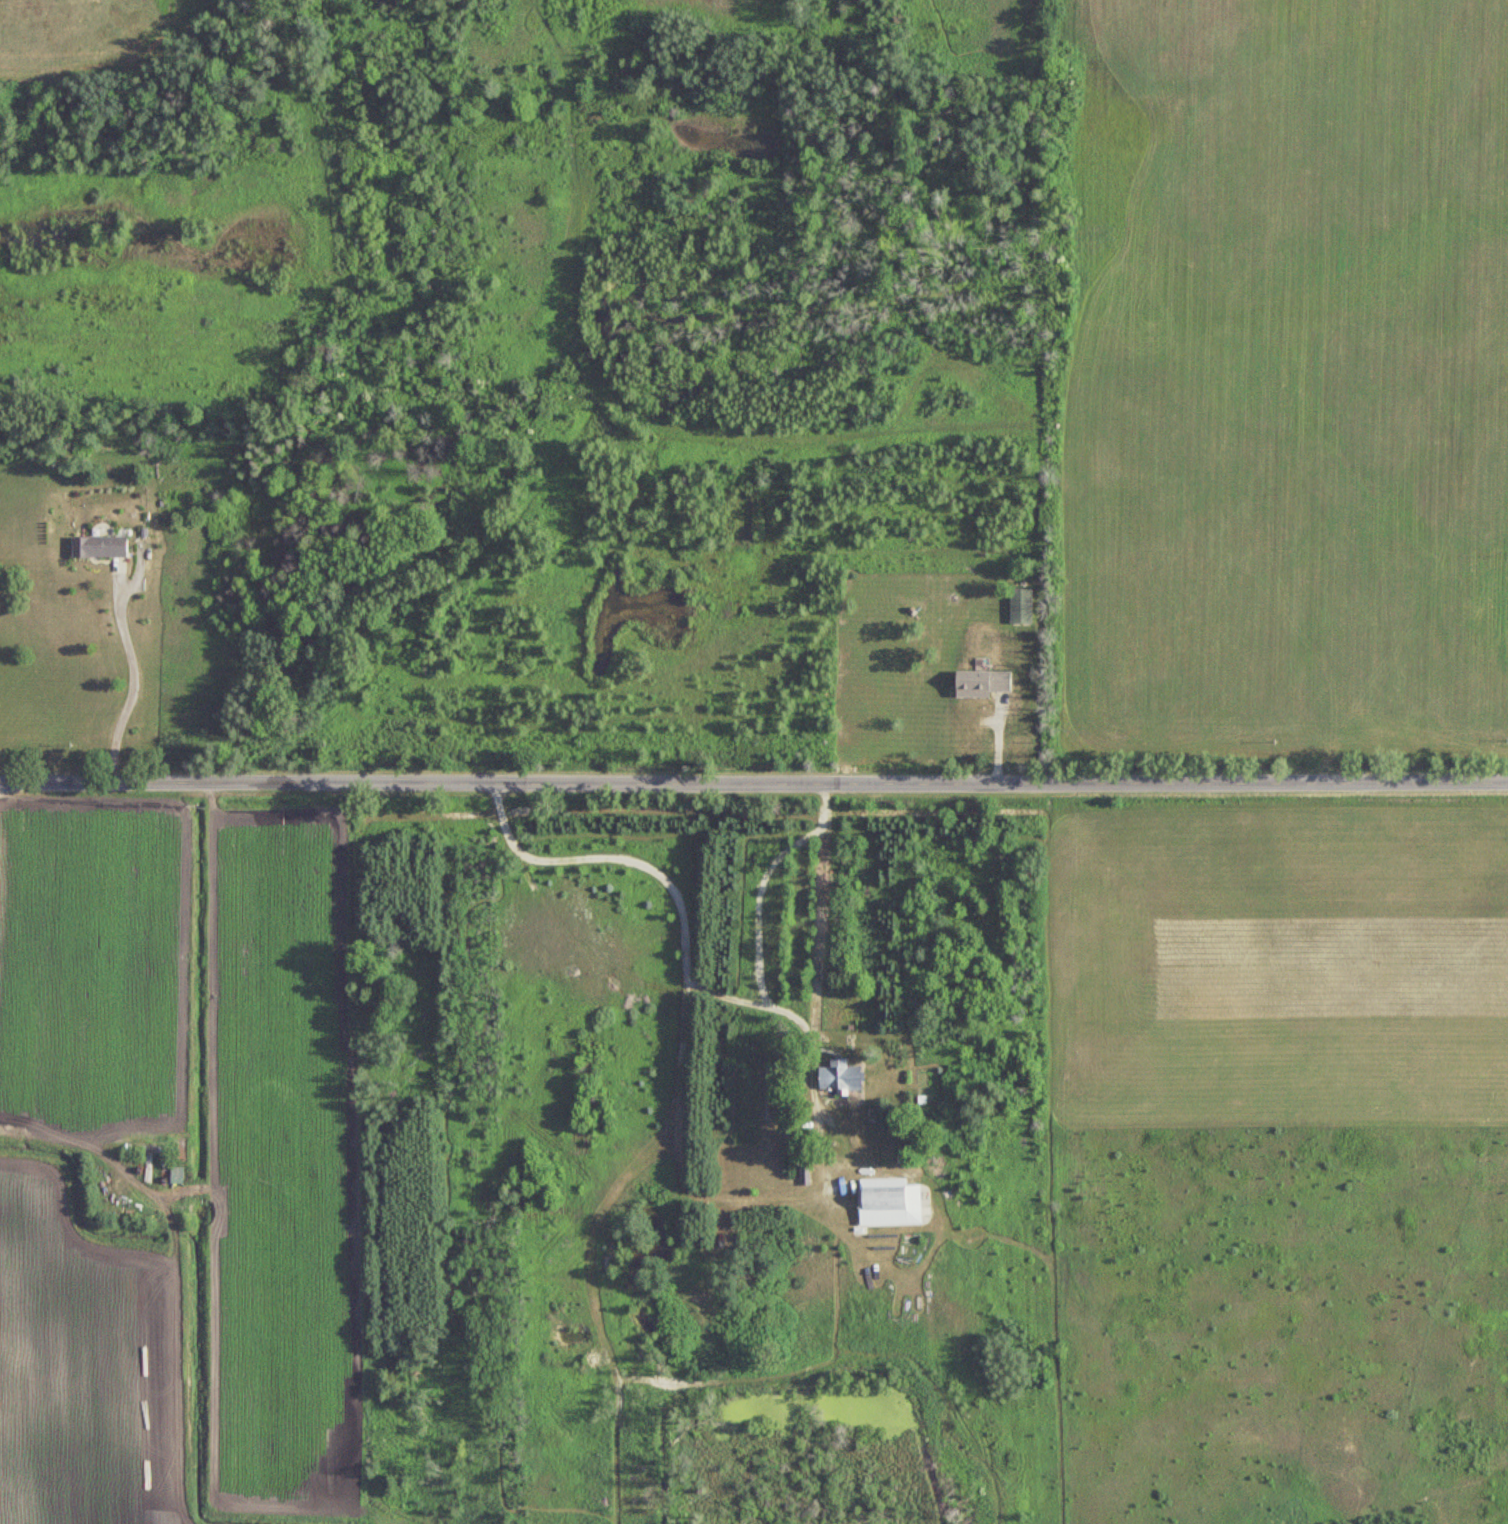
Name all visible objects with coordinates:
building: (100, 546)
building: (1021, 605)
road: (137, 683)
building: (982, 683)
road: (753, 783)
road: (670, 885)
road: (762, 896)
road: (819, 955)
building: (840, 1079)
building: (177, 1176)
building: (883, 1198)

